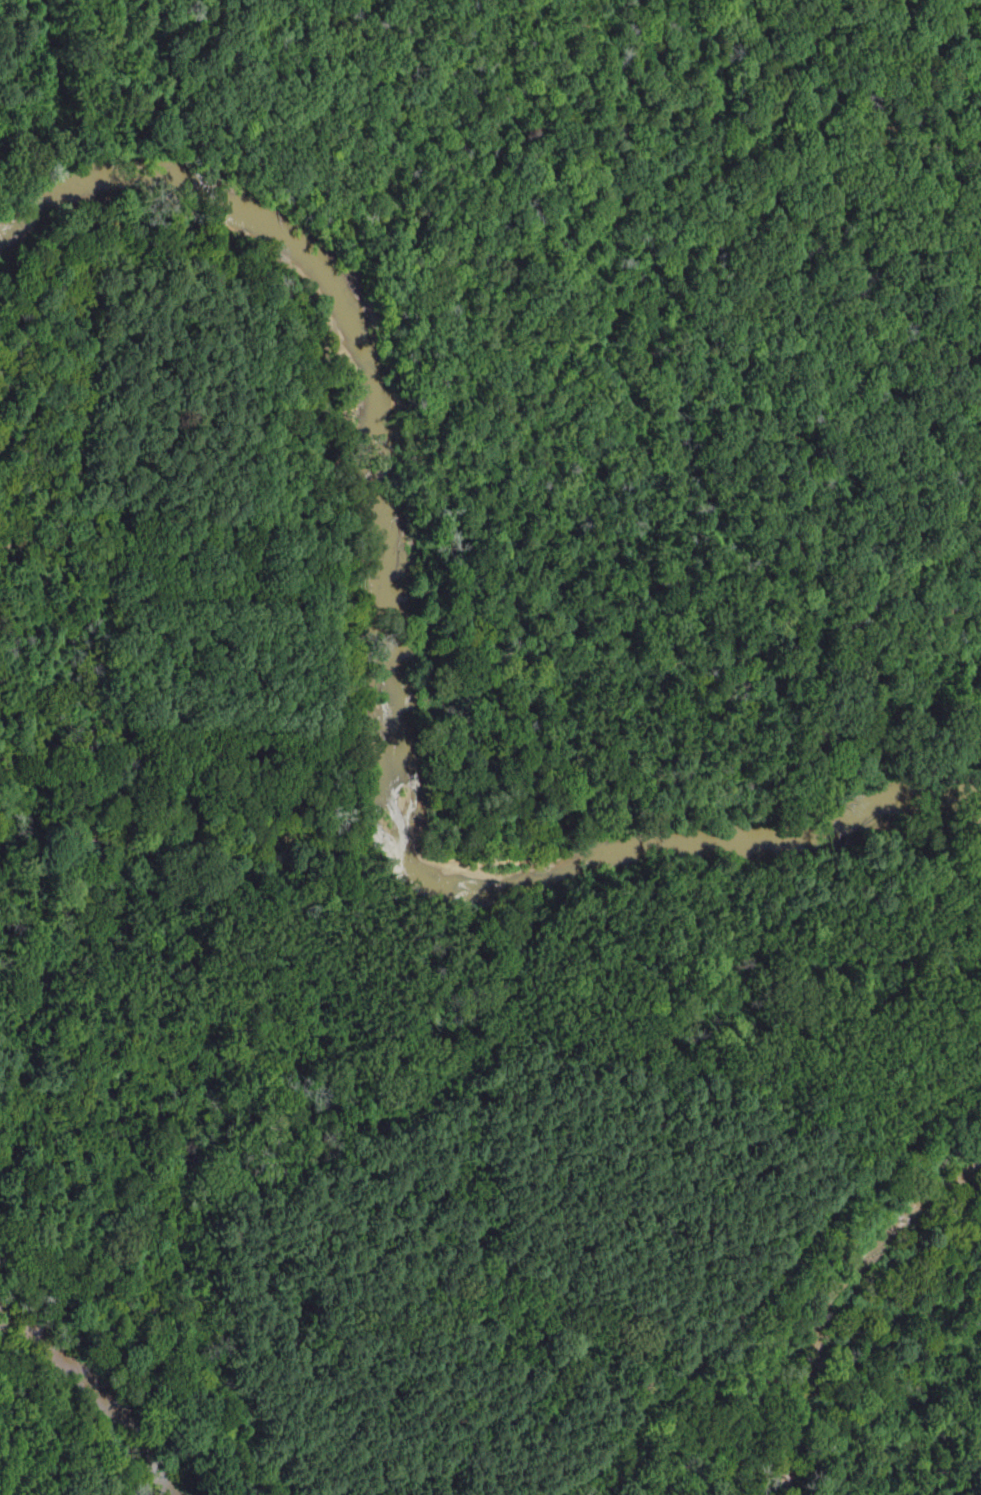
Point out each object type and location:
road: (767, 191)
river: (394, 682)

